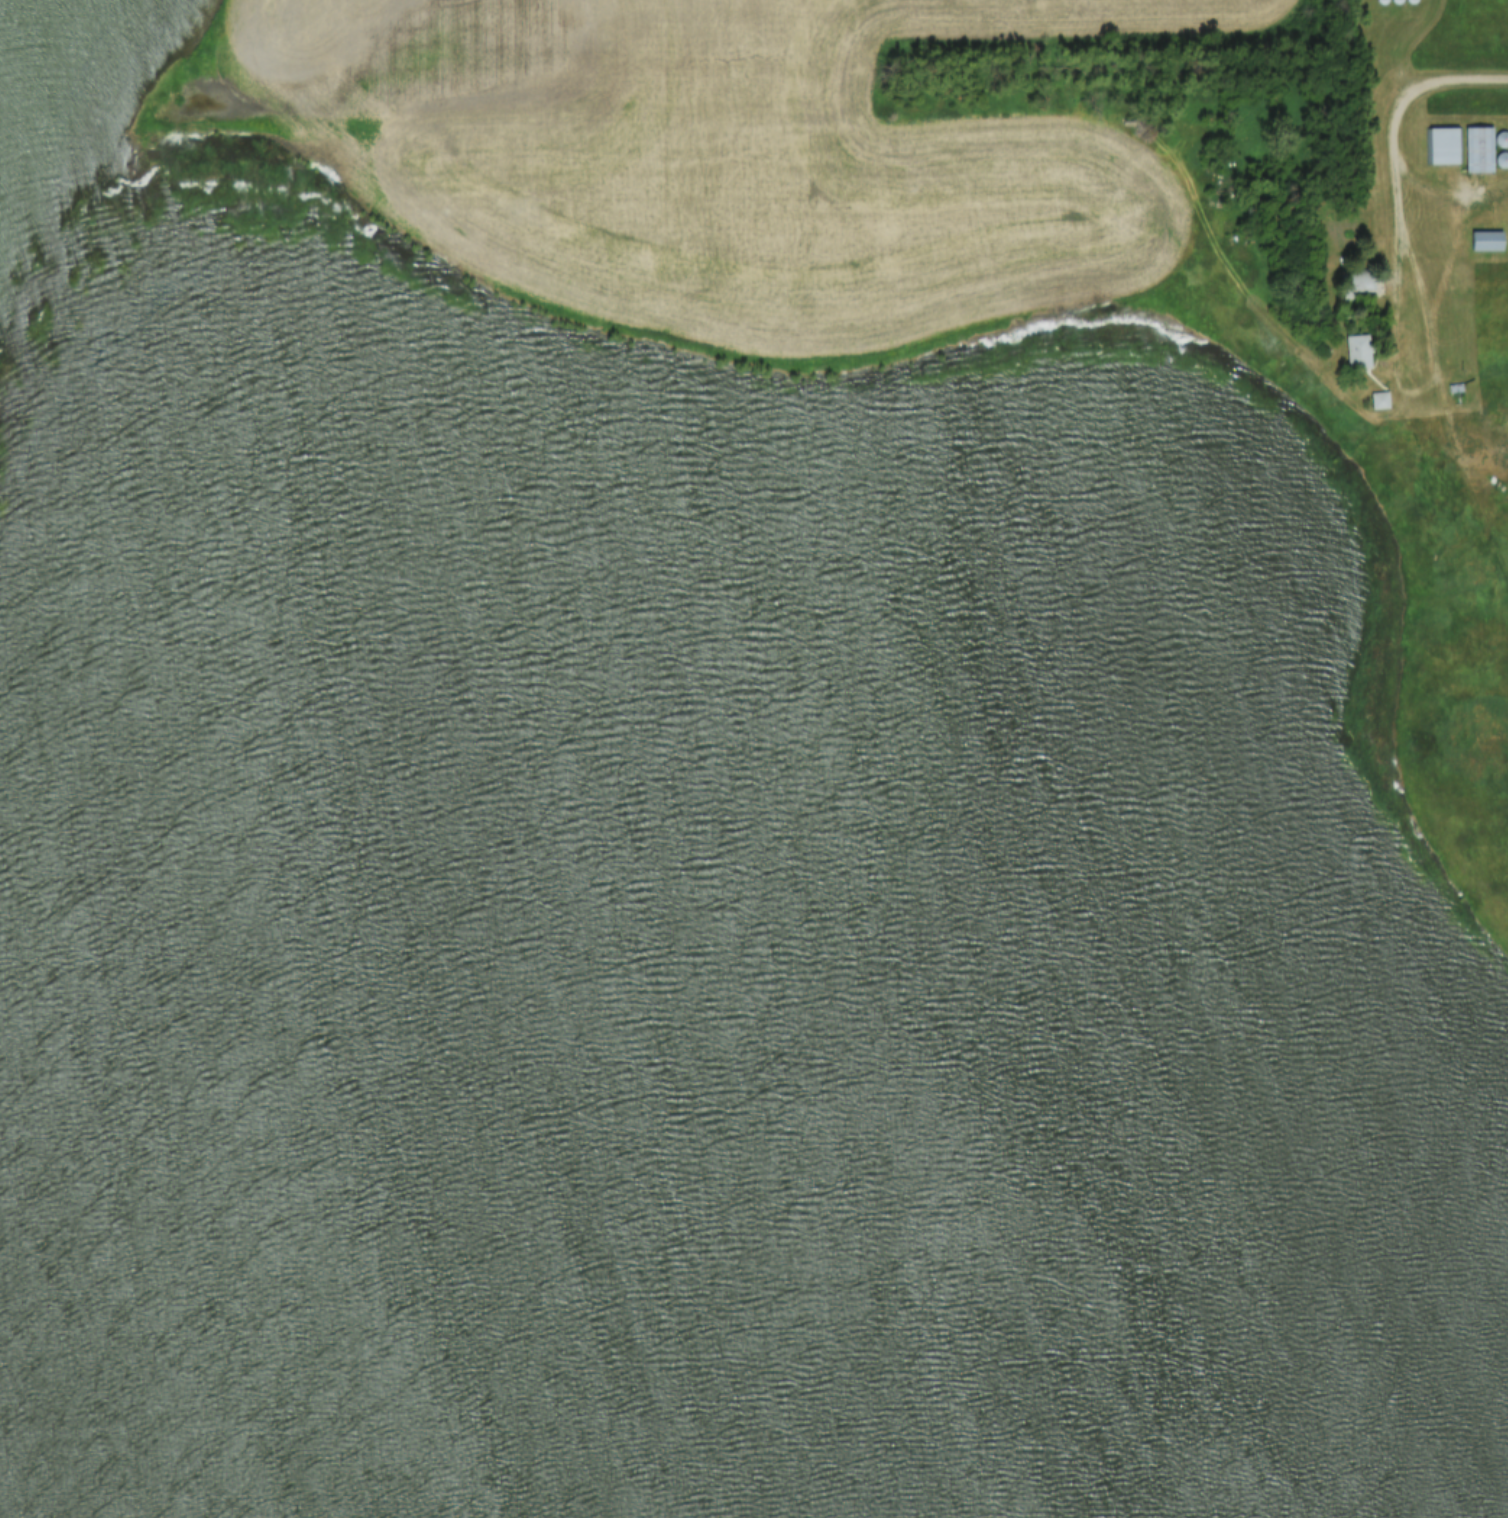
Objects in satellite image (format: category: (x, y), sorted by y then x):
building: (1443, 146)
building: (1478, 149)
road: (1403, 215)
building: (1485, 241)
building: (1354, 284)
road: (1425, 292)
road: (1437, 306)
building: (1357, 352)
building: (1379, 401)

